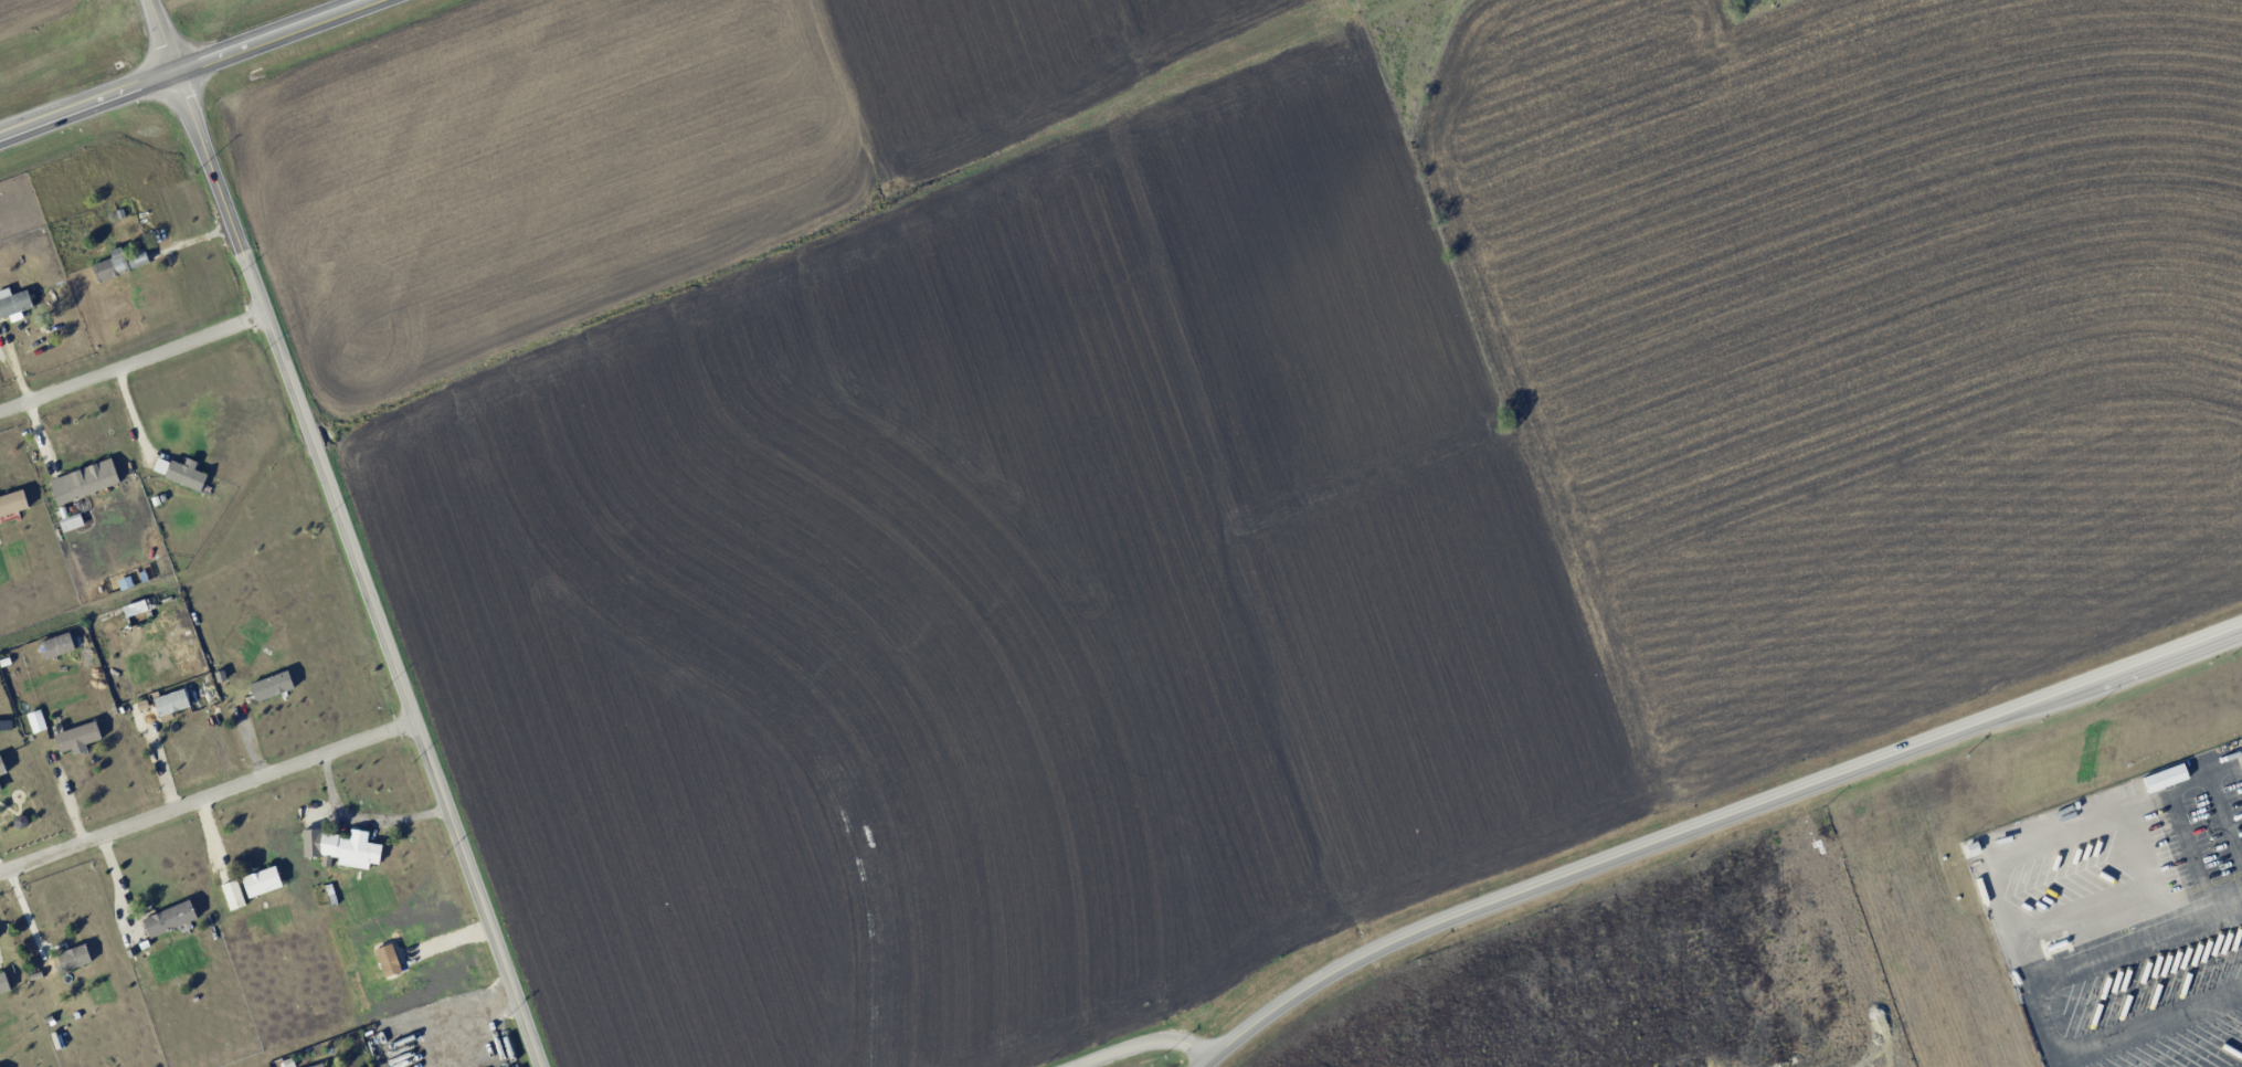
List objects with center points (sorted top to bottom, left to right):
road: (159, 36)
road: (186, 67)
building: (119, 263)
building: (13, 302)
road: (130, 362)
road: (130, 416)
building: (179, 473)
building: (91, 478)
building: (12, 503)
building: (71, 521)
road: (356, 570)
building: (135, 608)
building: (55, 645)
building: (271, 686)
building: (170, 702)
building: (35, 721)
building: (76, 736)
building: (1, 767)
building: (0, 790)
road: (205, 796)
road: (1710, 821)
building: (310, 843)
road: (2011, 845)
building: (357, 851)
road: (2189, 851)
building: (261, 881)
building: (232, 895)
building: (169, 918)
road: (2136, 941)
building: (73, 958)
building: (3, 983)
road: (1146, 1044)
building: (317, 1065)

